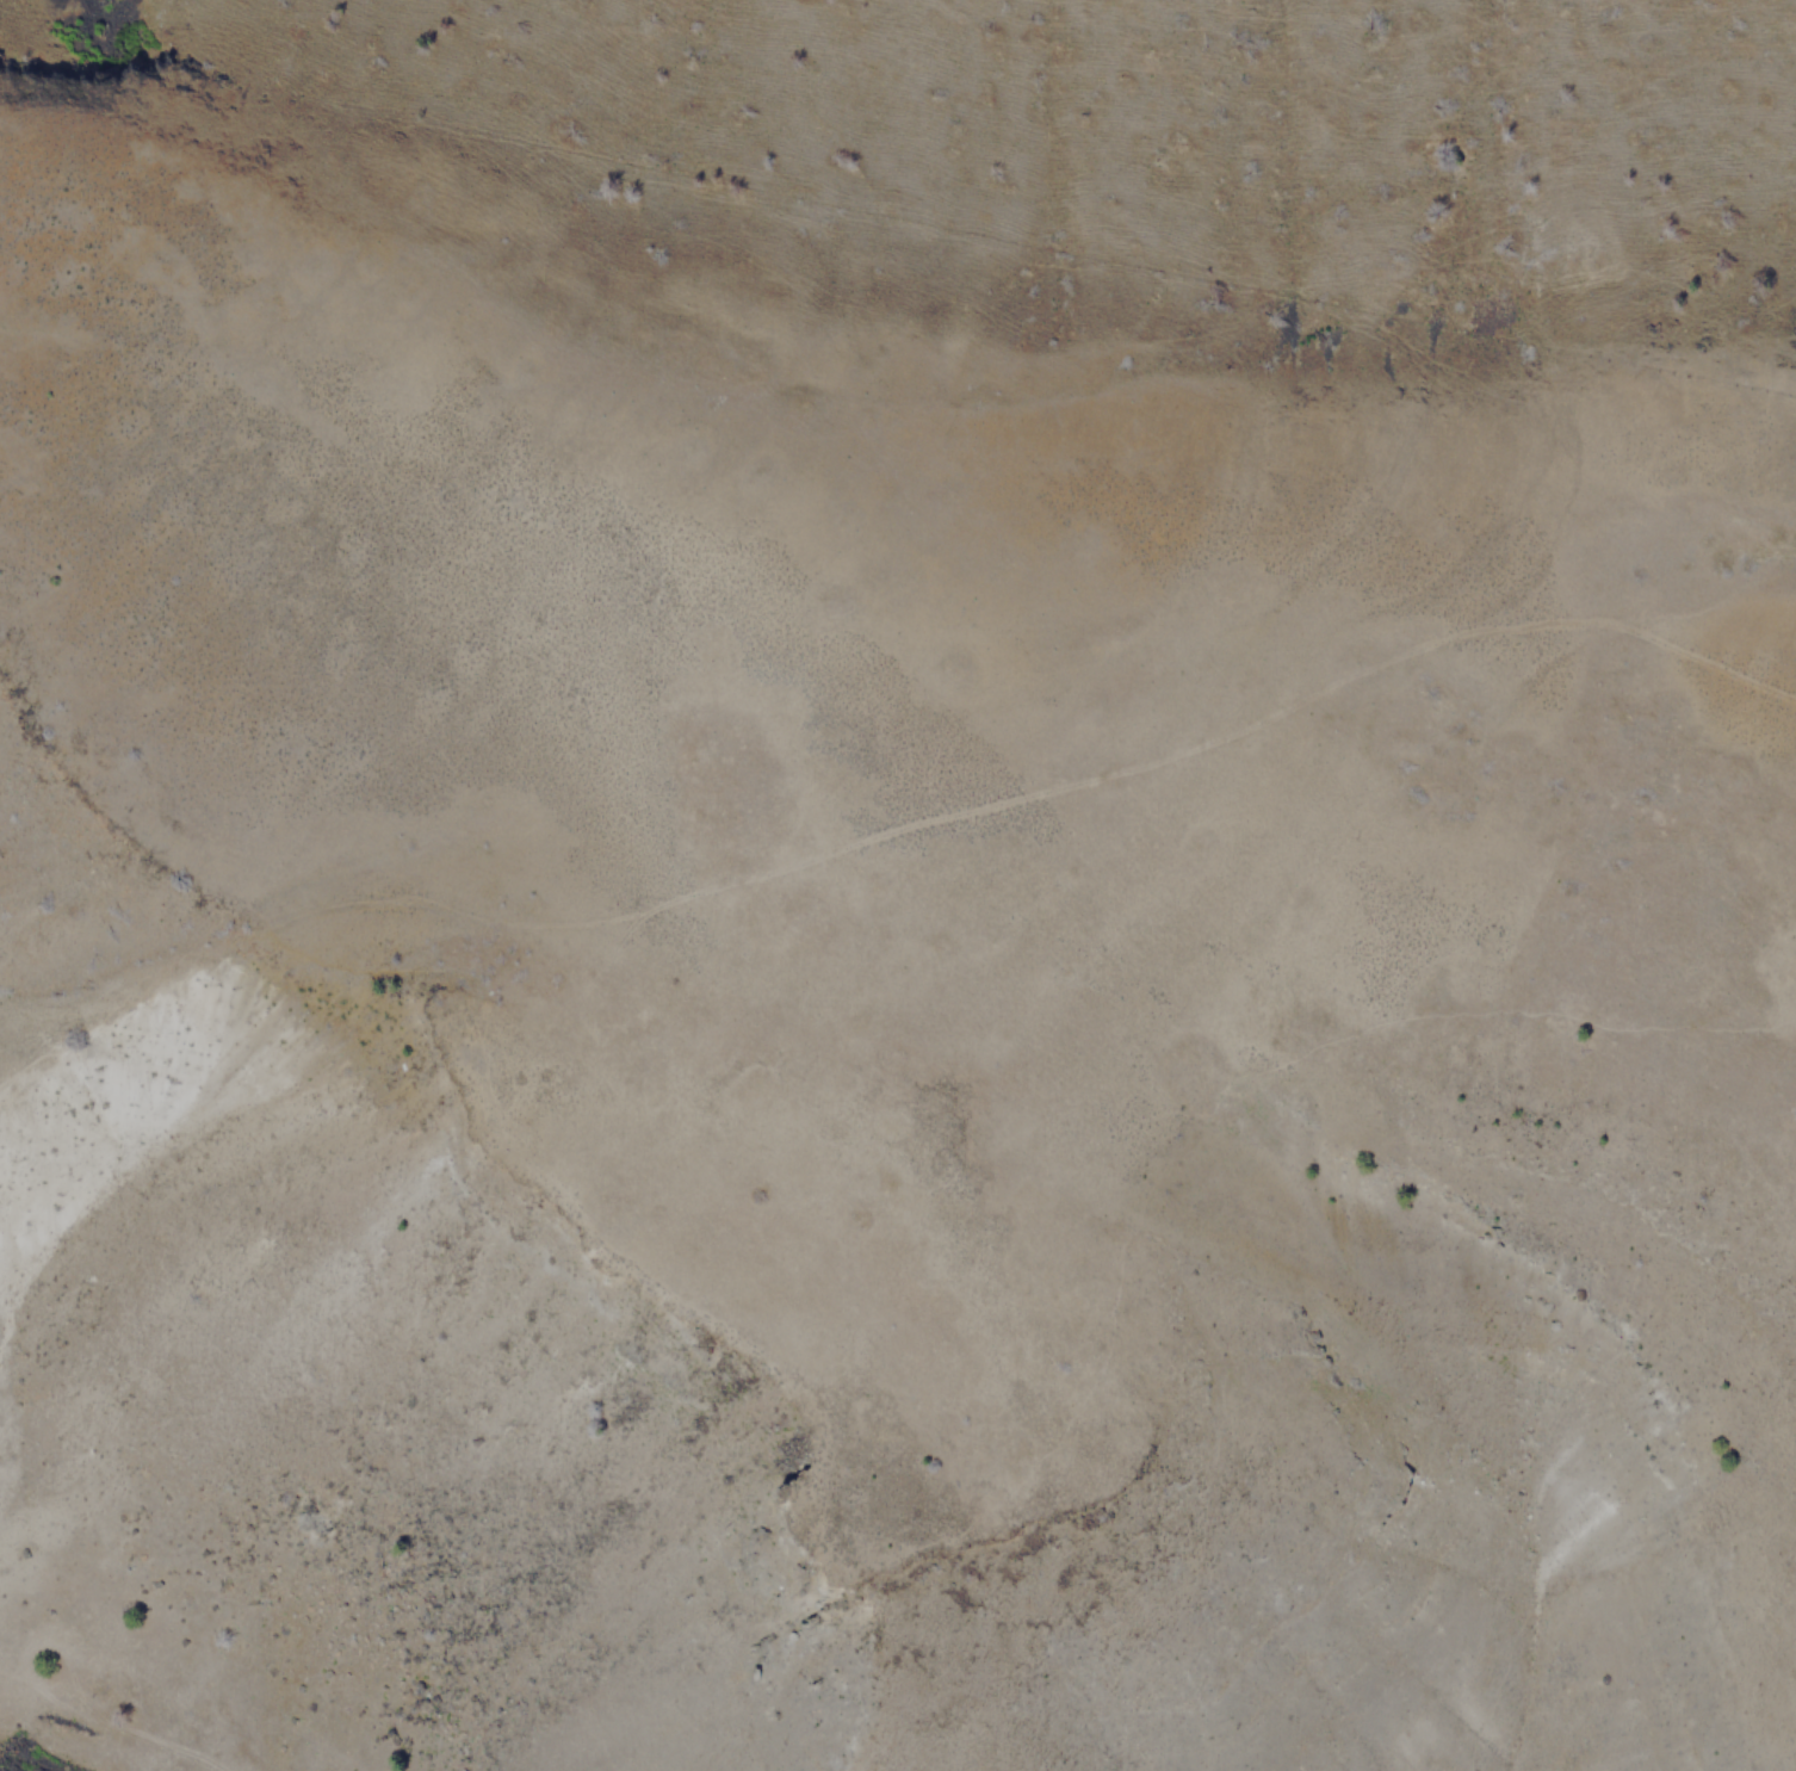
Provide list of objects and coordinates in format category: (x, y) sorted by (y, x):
road: (885, 1505)
road: (103, 1721)

